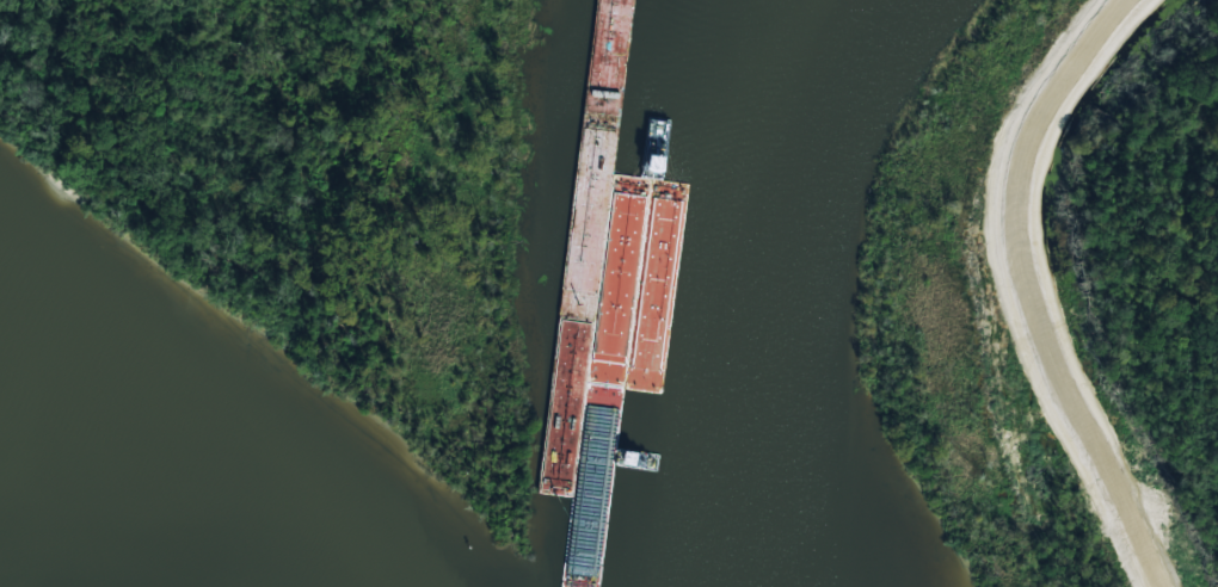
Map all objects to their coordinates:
river: (700, 283)
river: (113, 490)

